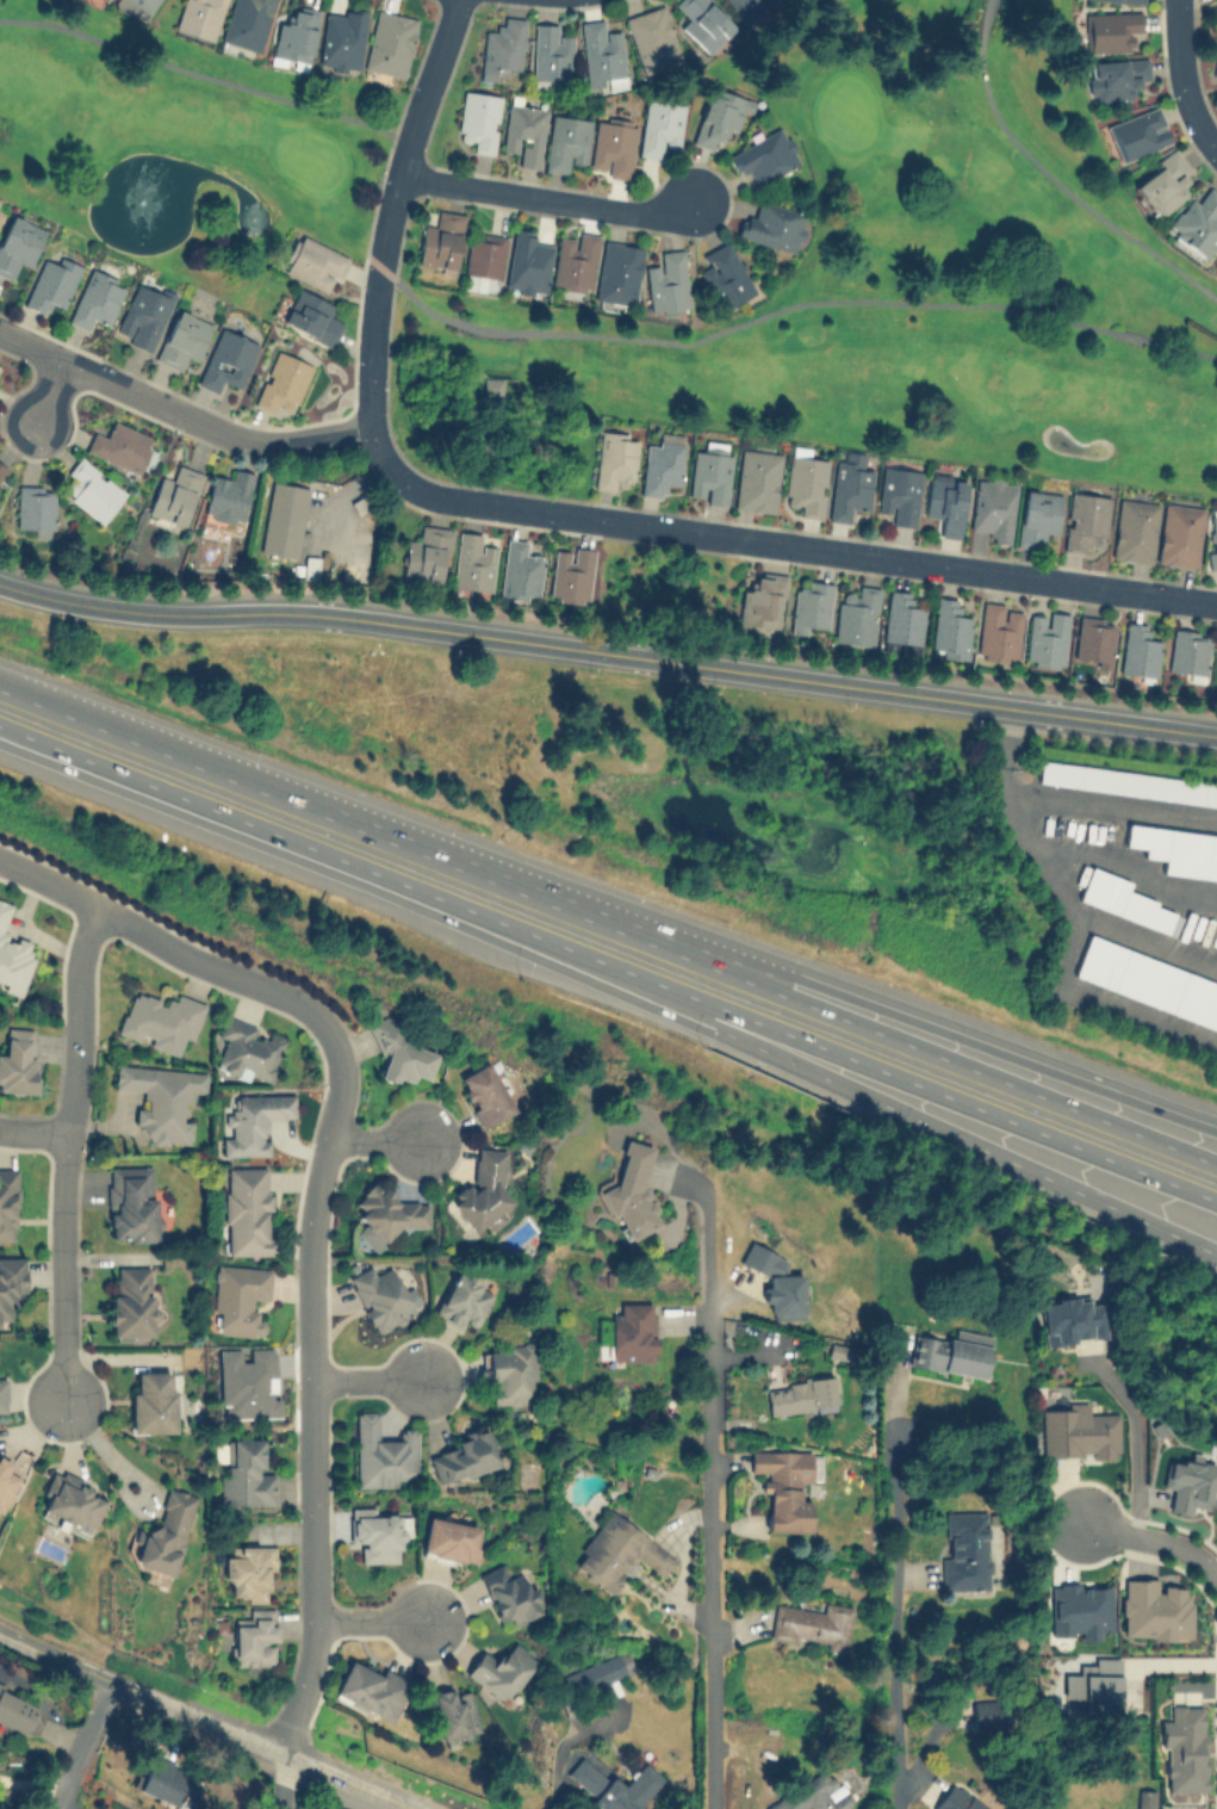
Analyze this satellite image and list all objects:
building: (105, 0)
building: (1123, 0)
building: (144, 5)
building: (746, 7)
building: (199, 17)
building: (247, 23)
building: (703, 23)
building: (1110, 30)
building: (294, 38)
building: (341, 38)
building: (652, 39)
building: (389, 43)
building: (502, 49)
building: (551, 52)
building: (601, 55)
building: (1215, 72)
road: (205, 73)
building: (1118, 78)
road: (1182, 80)
building: (719, 114)
building: (478, 119)
building: (660, 126)
building: (524, 131)
building: (1137, 132)
building: (566, 142)
park: (182, 143)
building: (613, 144)
building: (764, 155)
road: (1053, 176)
building: (1165, 181)
road: (548, 196)
fountain: (139, 200)
road: (390, 209)
building: (0, 213)
building: (1196, 223)
building: (774, 225)
building: (440, 241)
building: (18, 243)
building: (483, 255)
building: (576, 261)
building: (313, 262)
building: (528, 262)
building: (619, 272)
building: (724, 275)
building: (668, 280)
building: (52, 283)
park: (873, 284)
building: (97, 298)
road: (787, 305)
building: (144, 315)
building: (311, 316)
building: (182, 339)
building: (226, 359)
building: (282, 383)
building: (492, 385)
road: (52, 390)
fountain: (1055, 435)
building: (120, 446)
building: (614, 458)
building: (660, 464)
building: (1, 469)
building: (710, 473)
building: (757, 479)
building: (806, 483)
building: (92, 489)
building: (849, 490)
building: (899, 494)
building: (174, 495)
building: (228, 496)
building: (945, 504)
building: (35, 507)
building: (993, 508)
road: (582, 516)
building: (1037, 516)
building: (282, 519)
building: (1085, 520)
building: (1134, 529)
building: (1179, 533)
building: (1212, 537)
building: (426, 555)
building: (472, 562)
building: (309, 566)
building: (519, 571)
building: (570, 574)
building: (760, 600)
building: (811, 605)
building: (856, 615)
building: (902, 622)
building: (949, 628)
building: (998, 631)
road: (504, 637)
building: (1044, 638)
building: (1093, 639)
building: (1138, 650)
building: (1187, 651)
road: (1113, 720)
building: (1128, 781)
road: (285, 795)
road: (1113, 801)
road: (275, 834)
building: (1176, 849)
road: (1123, 867)
building: (1123, 899)
road: (1085, 921)
road: (687, 940)
road: (733, 942)
road: (1151, 944)
road: (175, 954)
building: (12, 955)
building: (1148, 980)
building: (160, 1020)
road: (893, 1037)
building: (248, 1049)
road: (1008, 1049)
building: (399, 1054)
building: (18, 1060)
road: (884, 1070)
building: (484, 1094)
building: (161, 1099)
road: (881, 1102)
building: (252, 1122)
road: (32, 1133)
road: (370, 1142)
road: (66, 1153)
building: (629, 1188)
building: (483, 1191)
building: (131, 1202)
building: (7, 1204)
building: (247, 1209)
building: (384, 1215)
building: (775, 1281)
building: (11, 1282)
building: (380, 1296)
building: (240, 1297)
building: (462, 1299)
building: (131, 1302)
building: (1073, 1319)
building: (633, 1331)
building: (951, 1352)
building: (510, 1373)
road: (362, 1383)
building: (2, 1395)
building: (799, 1395)
building: (151, 1401)
road: (305, 1405)
building: (1078, 1431)
road: (1135, 1442)
road: (106, 1449)
building: (380, 1452)
building: (462, 1456)
building: (246, 1473)
building: (4, 1477)
building: (1191, 1483)
building: (786, 1485)
building: (73, 1501)
road: (713, 1510)
building: (164, 1534)
building: (375, 1534)
building: (449, 1539)
road: (1154, 1539)
building: (965, 1550)
building: (617, 1551)
building: (248, 1568)
building: (509, 1593)
building: (1078, 1609)
building: (1153, 1610)
road: (365, 1624)
building: (812, 1624)
road: (899, 1624)
building: (254, 1637)
building: (501, 1669)
building: (601, 1671)
building: (371, 1689)
building: (15, 1710)
building: (453, 1712)
road: (205, 1717)
road: (85, 1743)
building: (1184, 1748)
building: (585, 1774)
building: (163, 1779)
building: (627, 1789)
building: (811, 1795)
building: (958, 1798)
building: (1147, 1798)

